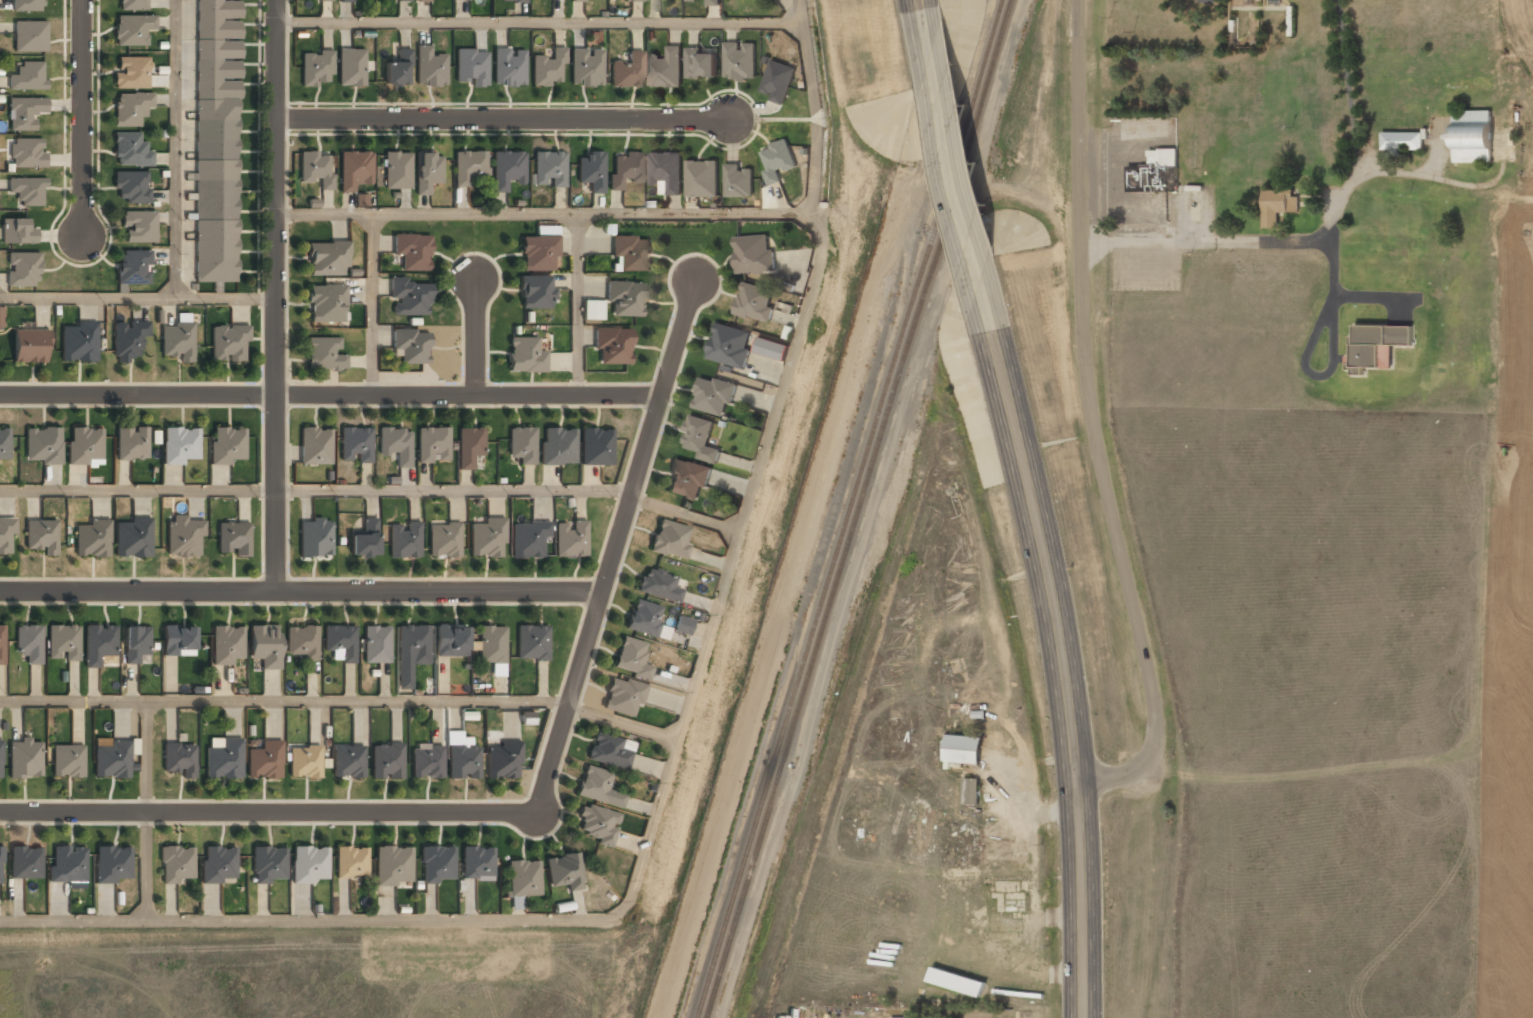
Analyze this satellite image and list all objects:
building: (324, 0)
building: (403, 0)
building: (577, 0)
building: (635, 0)
building: (691, 0)
building: (345, 1)
building: (423, 1)
building: (512, 1)
building: (711, 2)
building: (29, 5)
building: (133, 5)
road: (539, 20)
road: (922, 27)
building: (132, 31)
building: (30, 36)
building: (558, 56)
building: (740, 61)
building: (701, 63)
building: (472, 67)
building: (509, 67)
building: (351, 68)
building: (429, 68)
building: (586, 68)
building: (666, 68)
building: (316, 69)
building: (397, 70)
building: (628, 70)
building: (131, 74)
building: (28, 75)
building: (777, 81)
building: (131, 109)
building: (24, 112)
road: (85, 117)
road: (503, 119)
building: (1472, 136)
building: (216, 140)
building: (1401, 142)
road: (176, 149)
building: (131, 151)
building: (27, 152)
building: (777, 160)
building: (467, 168)
building: (316, 170)
building: (507, 170)
building: (549, 170)
building: (625, 170)
building: (355, 171)
building: (666, 171)
building: (396, 172)
building: (591, 172)
building: (1155, 172)
building: (427, 173)
building: (701, 179)
building: (738, 181)
building: (132, 189)
building: (28, 191)
road: (957, 194)
building: (1278, 204)
road: (544, 213)
building: (138, 228)
building: (547, 230)
building: (18, 231)
building: (412, 253)
building: (538, 254)
building: (631, 254)
building: (754, 255)
building: (327, 260)
building: (133, 268)
building: (23, 273)
building: (536, 293)
road: (276, 295)
road: (137, 298)
building: (409, 298)
building: (626, 299)
building: (755, 303)
building: (326, 305)
road: (577, 305)
road: (371, 306)
building: (593, 310)
building: (1, 319)
road: (476, 338)
building: (128, 342)
building: (177, 342)
building: (78, 343)
building: (230, 343)
building: (1377, 345)
building: (411, 346)
building: (729, 346)
building: (30, 347)
building: (613, 347)
building: (771, 348)
building: (325, 356)
building: (525, 356)
building: (713, 396)
road: (331, 398)
road: (1096, 421)
building: (698, 438)
building: (5, 444)
building: (85, 445)
building: (131, 445)
building: (395, 445)
building: (43, 446)
building: (226, 446)
building: (356, 446)
building: (433, 446)
building: (521, 446)
building: (180, 447)
building: (315, 447)
building: (469, 447)
building: (557, 447)
building: (595, 448)
building: (688, 480)
road: (137, 490)
road: (454, 490)
railway: (849, 508)
railway: (859, 509)
road: (686, 513)
building: (6, 537)
building: (41, 537)
building: (184, 537)
building: (134, 539)
building: (315, 539)
building: (487, 539)
building: (570, 539)
building: (670, 539)
building: (92, 540)
building: (233, 540)
building: (364, 540)
building: (529, 540)
building: (404, 541)
building: (444, 541)
road: (618, 545)
building: (659, 585)
road: (302, 591)
building: (644, 618)
building: (683, 626)
building: (179, 641)
building: (301, 642)
building: (341, 642)
building: (451, 642)
building: (413, 643)
building: (2, 644)
building: (29, 644)
building: (63, 644)
building: (136, 644)
building: (532, 644)
building: (376, 645)
building: (492, 645)
building: (228, 646)
building: (264, 646)
building: (95, 650)
building: (631, 659)
road: (1061, 672)
building: (623, 697)
road: (284, 701)
building: (527, 718)
road: (621, 723)
building: (963, 751)
building: (607, 752)
building: (0, 760)
building: (26, 760)
building: (112, 760)
building: (179, 760)
road: (671, 760)
building: (68, 761)
building: (223, 761)
building: (265, 761)
building: (504, 761)
building: (386, 762)
building: (305, 763)
building: (348, 763)
building: (426, 763)
building: (463, 763)
building: (595, 785)
road: (1075, 788)
building: (970, 791)
road: (145, 811)
road: (266, 811)
building: (598, 827)
building: (351, 863)
building: (0, 864)
building: (25, 864)
building: (477, 864)
building: (68, 865)
building: (114, 865)
building: (269, 865)
building: (310, 865)
building: (437, 865)
building: (177, 866)
building: (218, 866)
building: (393, 866)
building: (564, 872)
building: (522, 881)
building: (956, 982)
building: (923, 1017)

